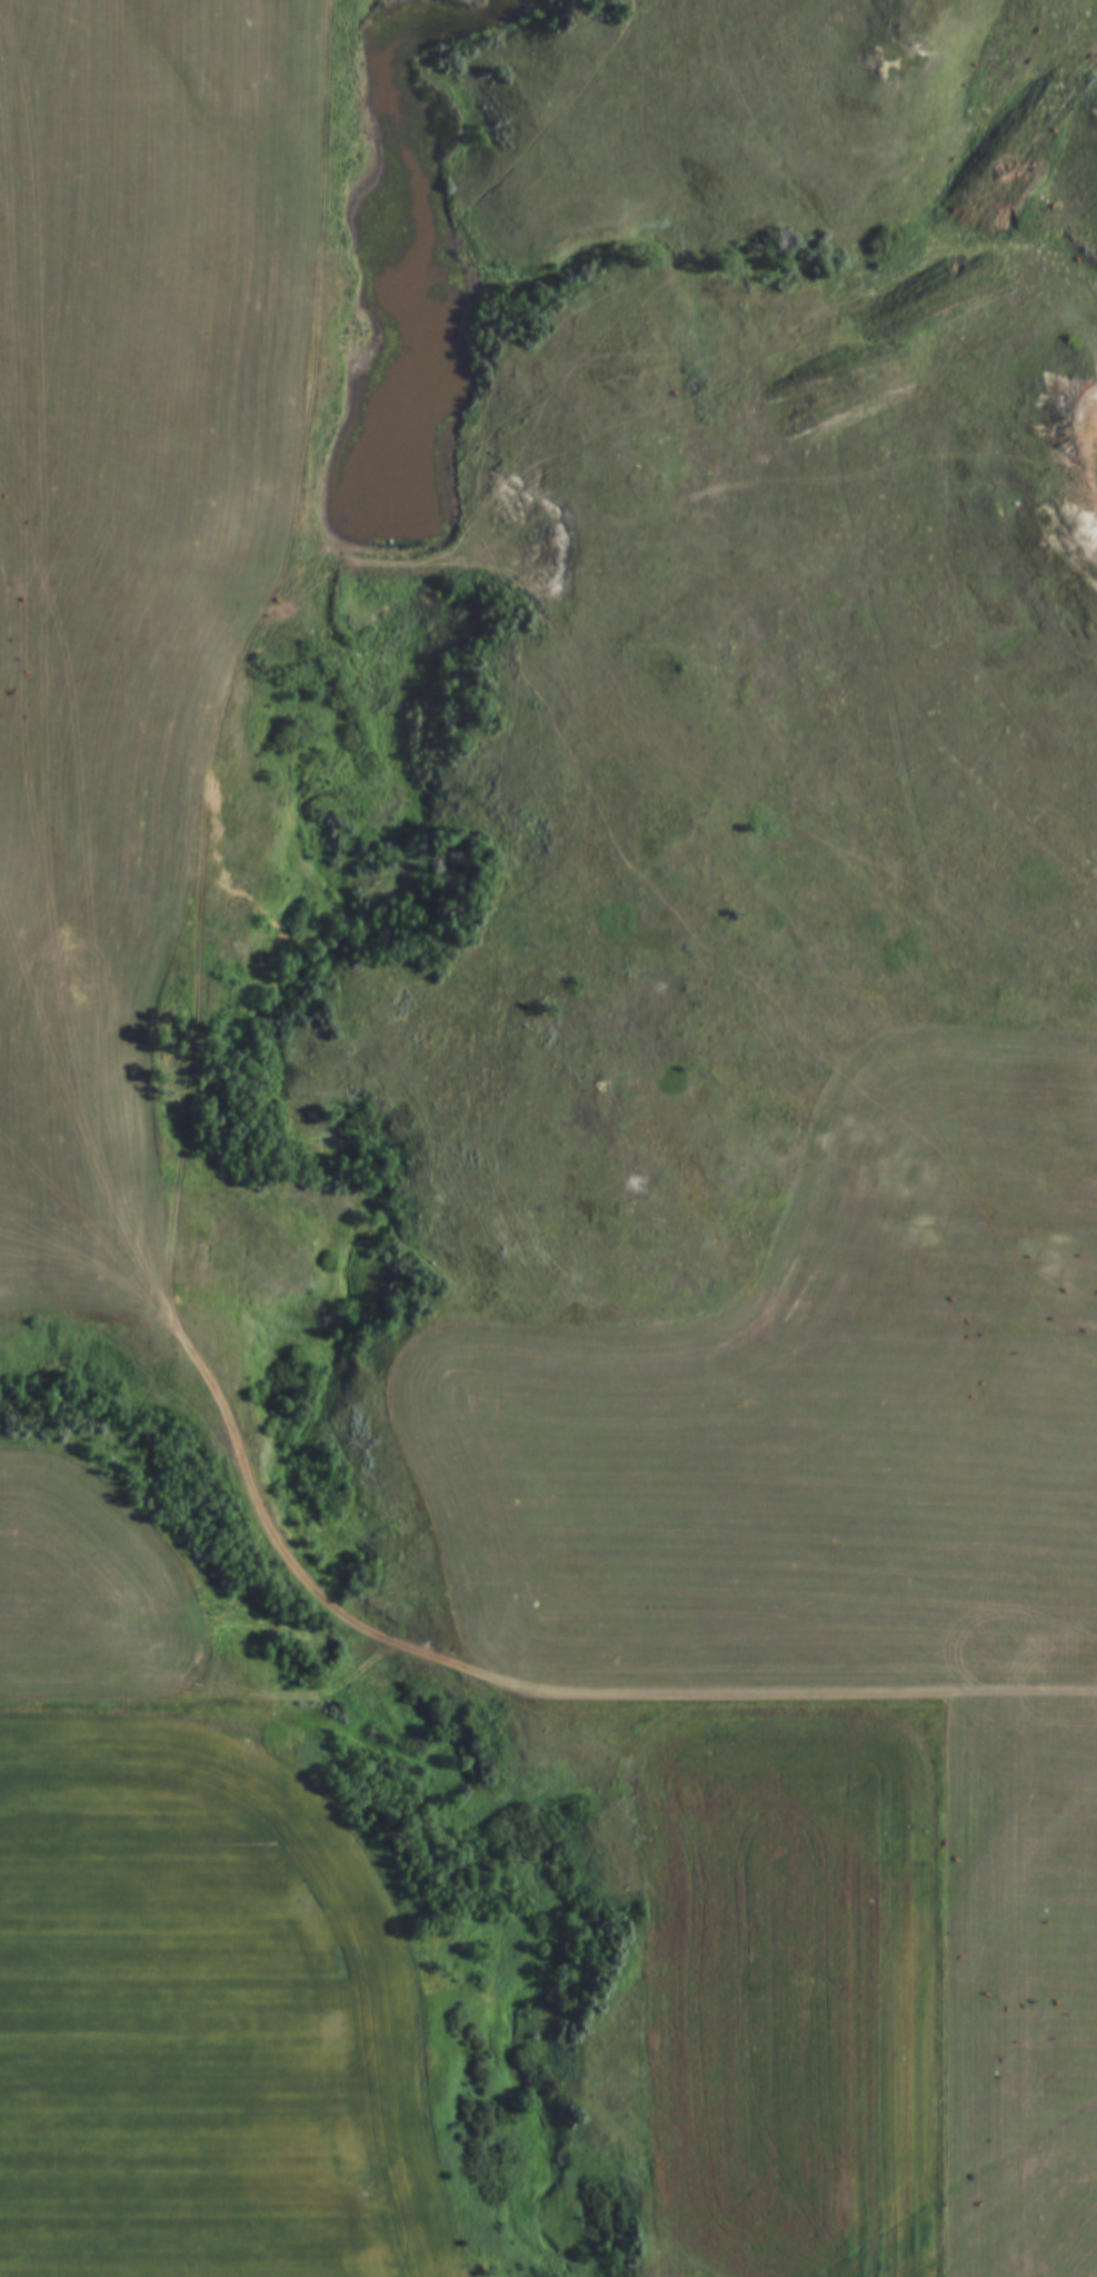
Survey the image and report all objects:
quarry: (1080, 484)
road: (950, 568)
road: (177, 1212)

